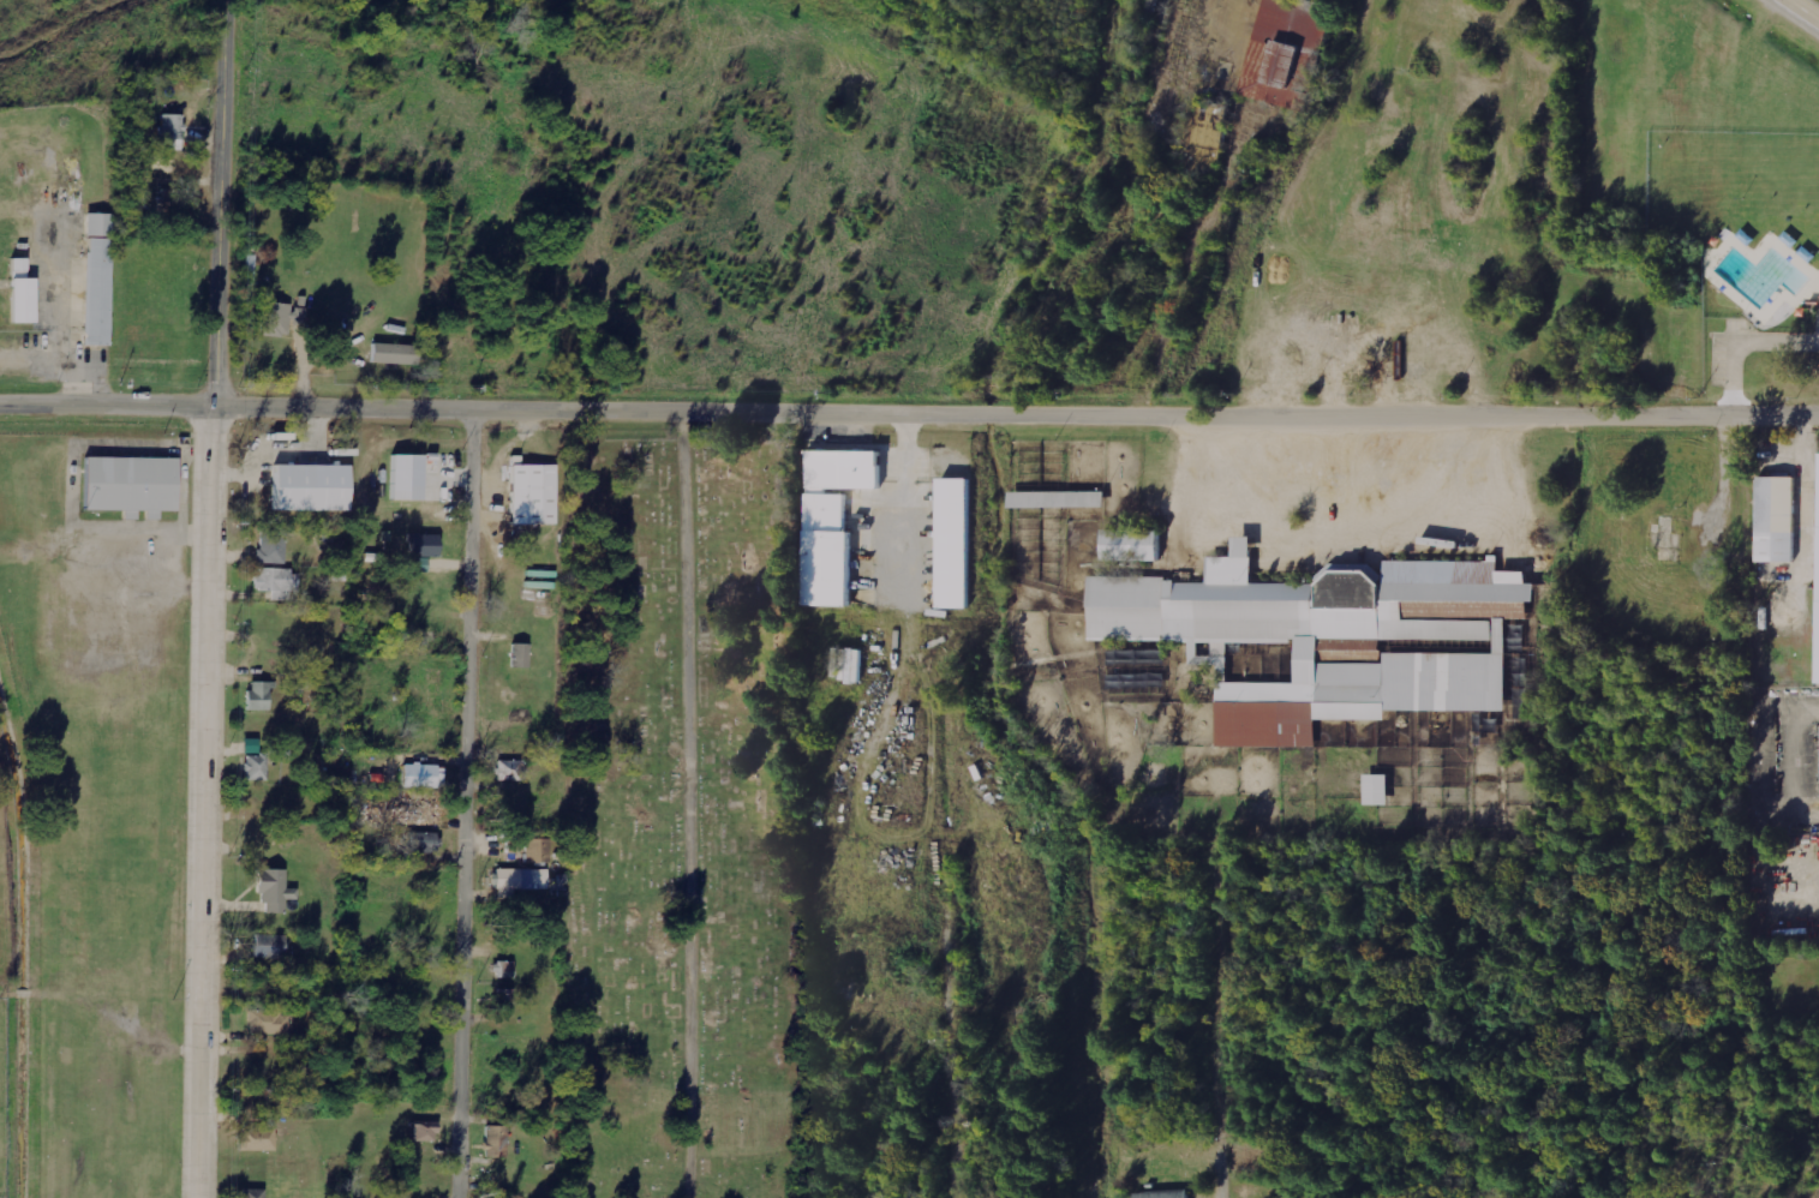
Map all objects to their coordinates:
road: (1802, 10)
building: (1292, 52)
building: (172, 132)
building: (169, 199)
park: (1747, 251)
building: (96, 281)
building: (23, 294)
building: (276, 319)
building: (395, 354)
road: (909, 413)
building: (407, 478)
building: (130, 483)
building: (312, 489)
building: (531, 496)
building: (1058, 501)
building: (834, 520)
building: (1776, 520)
building: (956, 544)
building: (425, 546)
building: (1133, 546)
building: (273, 547)
building: (420, 564)
building: (277, 580)
road: (210, 598)
building: (1817, 618)
building: (1335, 639)
building: (520, 657)
building: (1521, 666)
building: (261, 696)
building: (257, 768)
building: (510, 771)
building: (424, 777)
building: (1380, 790)
road: (468, 802)
park: (92, 804)
road: (692, 805)
building: (412, 808)
park: (688, 809)
building: (373, 816)
building: (421, 844)
building: (538, 851)
building: (521, 881)
building: (275, 891)
building: (270, 947)
building: (504, 970)
building: (505, 998)
building: (269, 1023)
road: (953, 1114)
building: (426, 1131)
building: (258, 1140)
building: (496, 1140)
road: (1219, 1173)
building: (253, 1193)
building: (1165, 1193)

